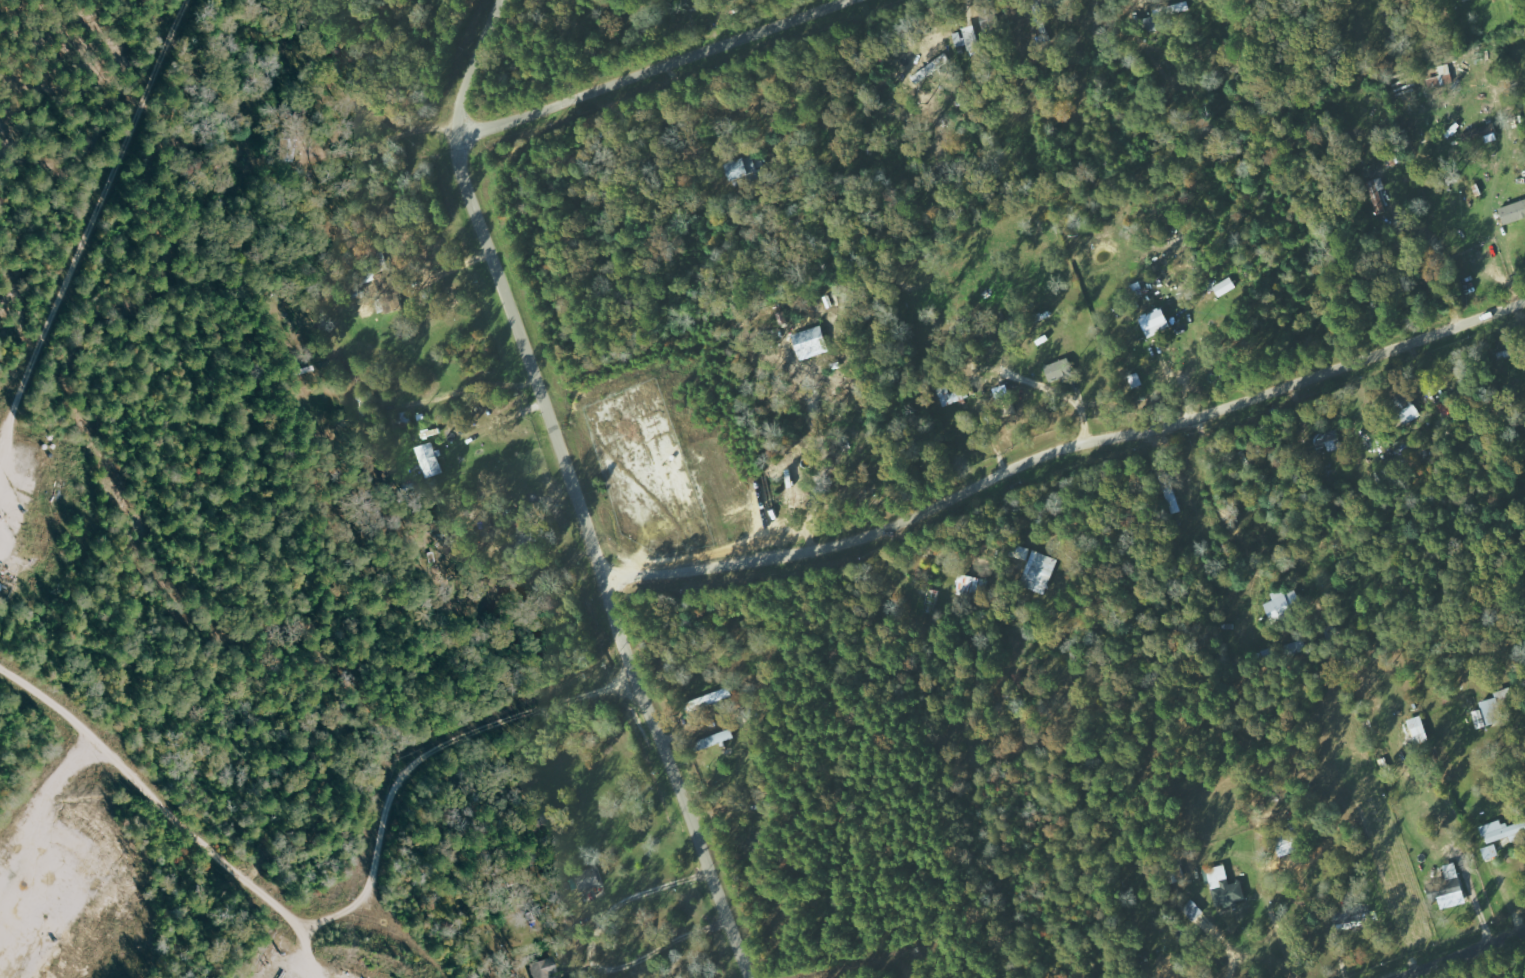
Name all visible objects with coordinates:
building: (1465, 0)
building: (1171, 9)
building: (990, 20)
building: (973, 40)
road: (471, 67)
road: (650, 69)
building: (1480, 132)
building: (739, 167)
building: (1374, 178)
building: (1514, 212)
building: (1225, 287)
building: (1157, 322)
building: (809, 341)
building: (1061, 370)
building: (951, 396)
building: (1408, 407)
building: (1329, 442)
road: (1064, 452)
building: (429, 460)
building: (794, 487)
road: (594, 560)
building: (1035, 569)
building: (970, 586)
building: (1284, 603)
building: (710, 699)
building: (1489, 714)
building: (716, 740)
road: (416, 758)
building: (543, 817)
building: (1502, 832)
building: (1491, 852)
building: (590, 878)
building: (1447, 885)
building: (1225, 888)
building: (1355, 920)
road: (591, 954)
road: (1462, 954)
building: (544, 968)

